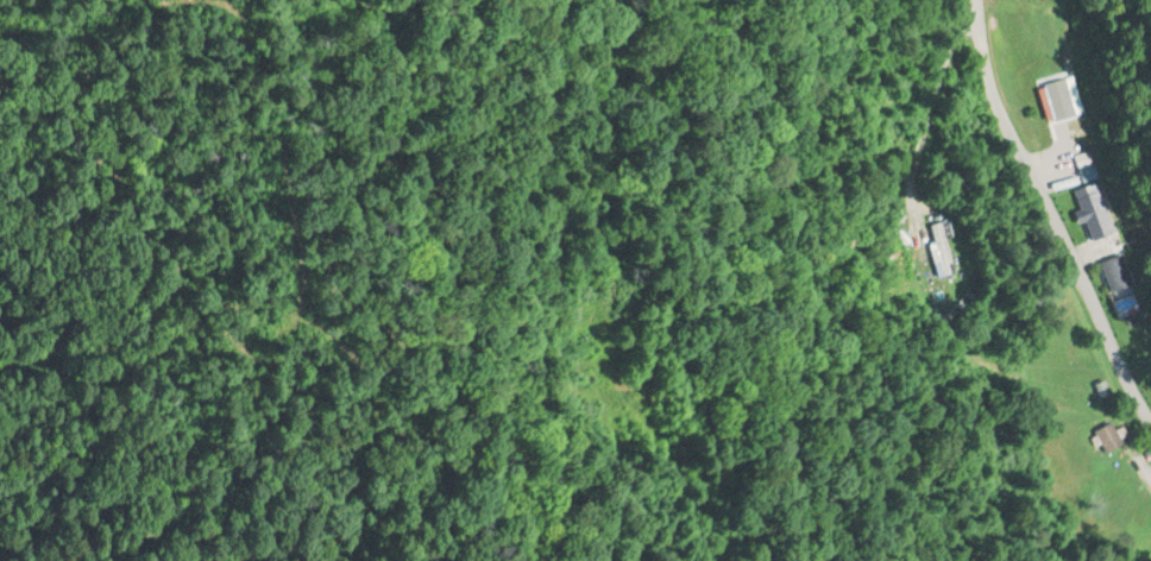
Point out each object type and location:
building: (1057, 111)
road: (1052, 208)
building: (1092, 212)
building: (941, 250)
building: (1114, 273)
building: (1107, 437)

